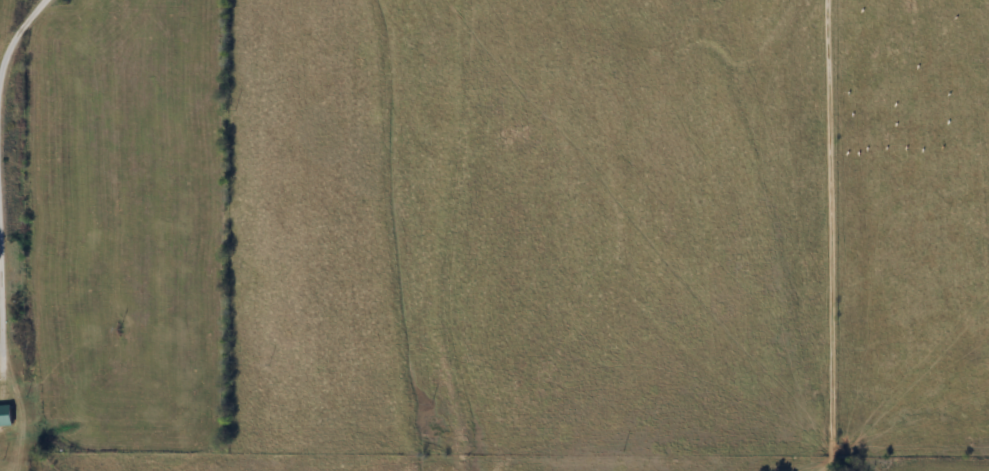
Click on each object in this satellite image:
road: (13, 44)
road: (0, 223)
road: (5, 326)

